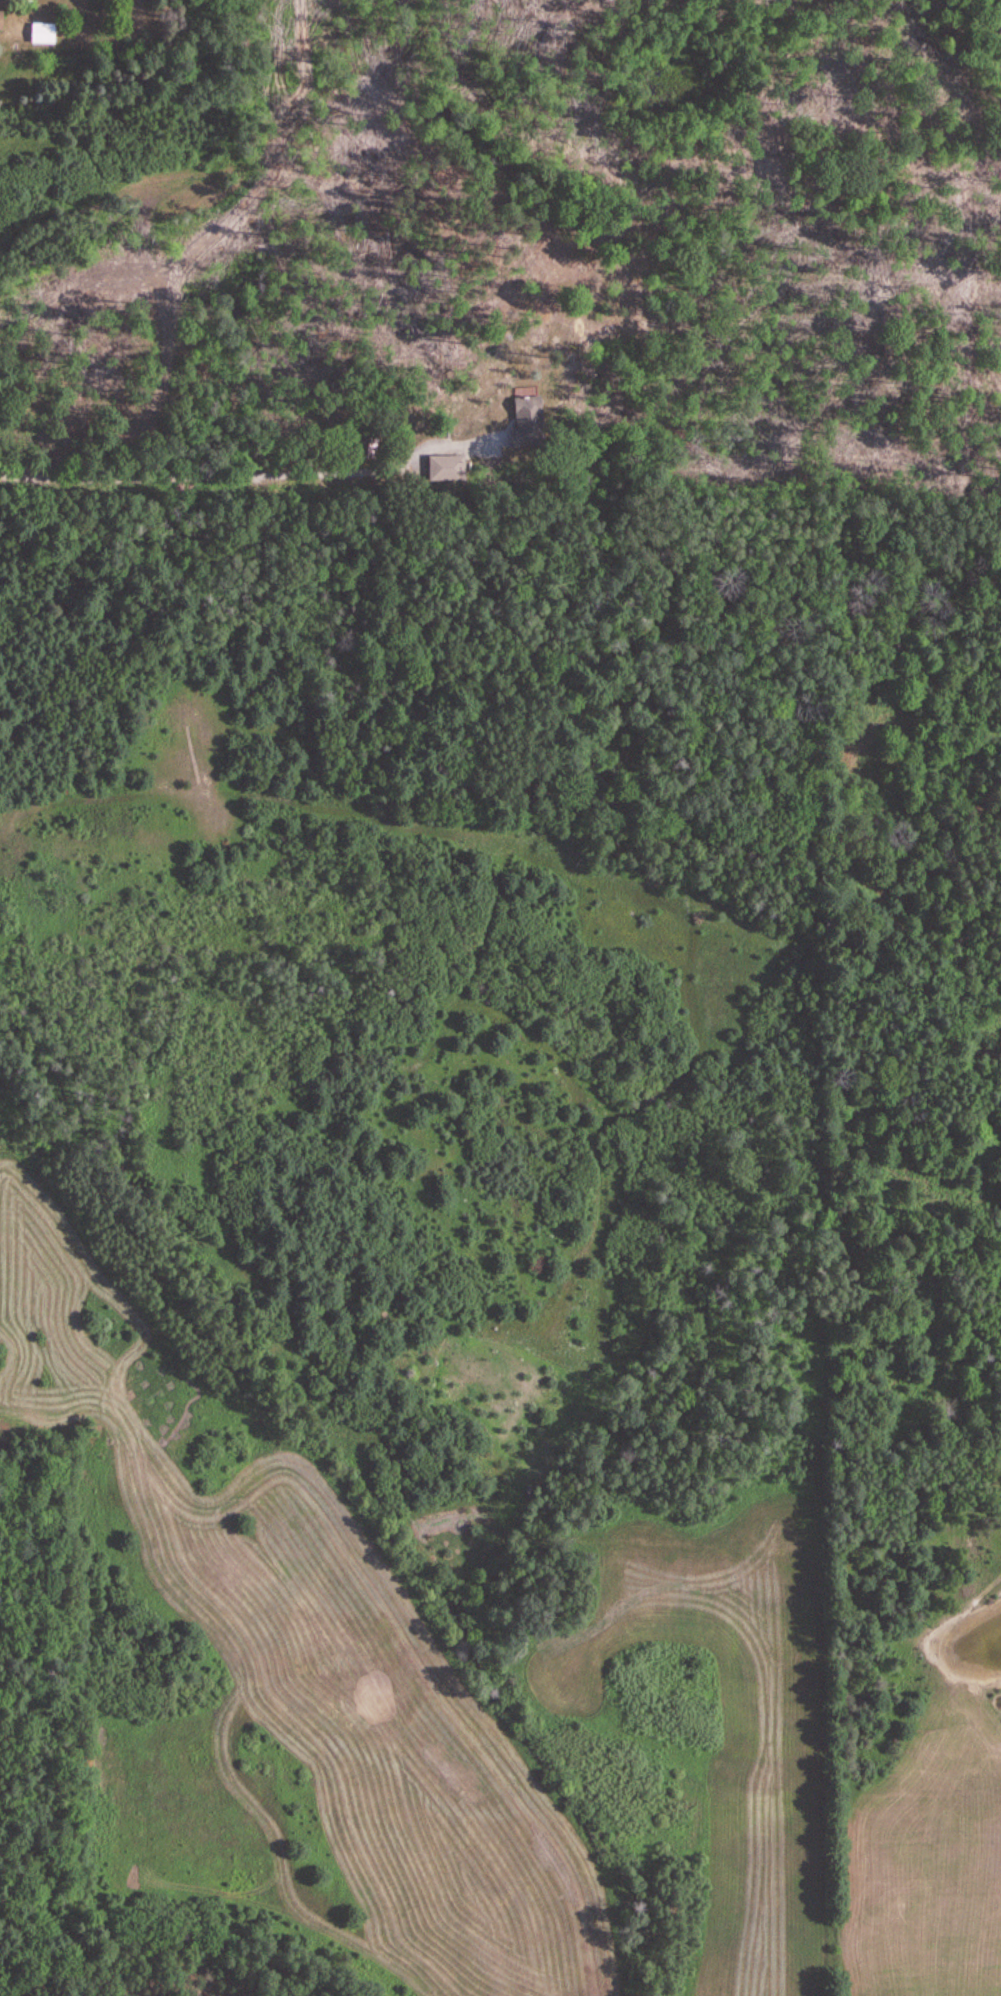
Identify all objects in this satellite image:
building: (0, 21)
building: (40, 34)
building: (525, 423)
road: (242, 473)

